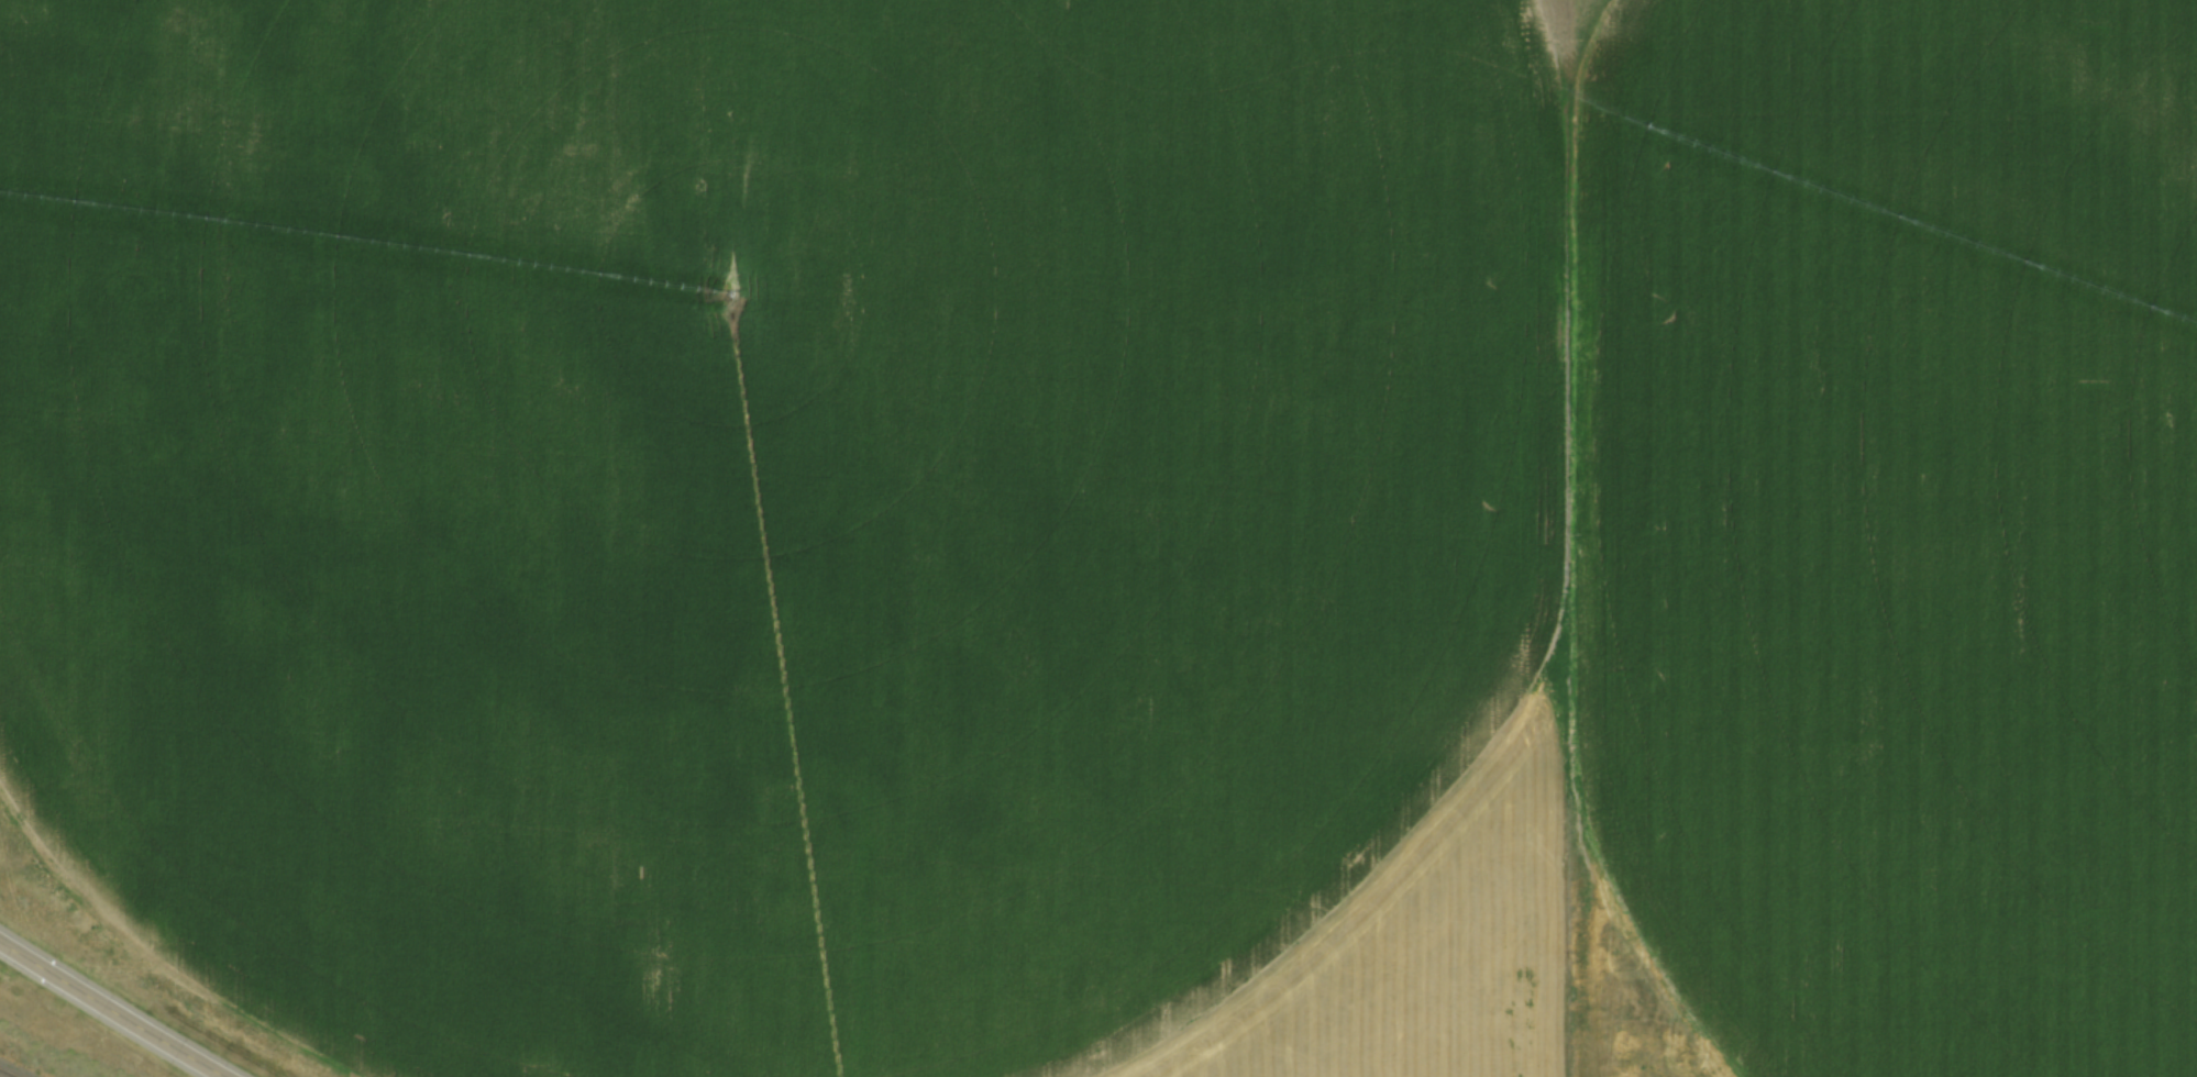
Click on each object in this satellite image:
road: (109, 1011)
railway: (7, 1074)

